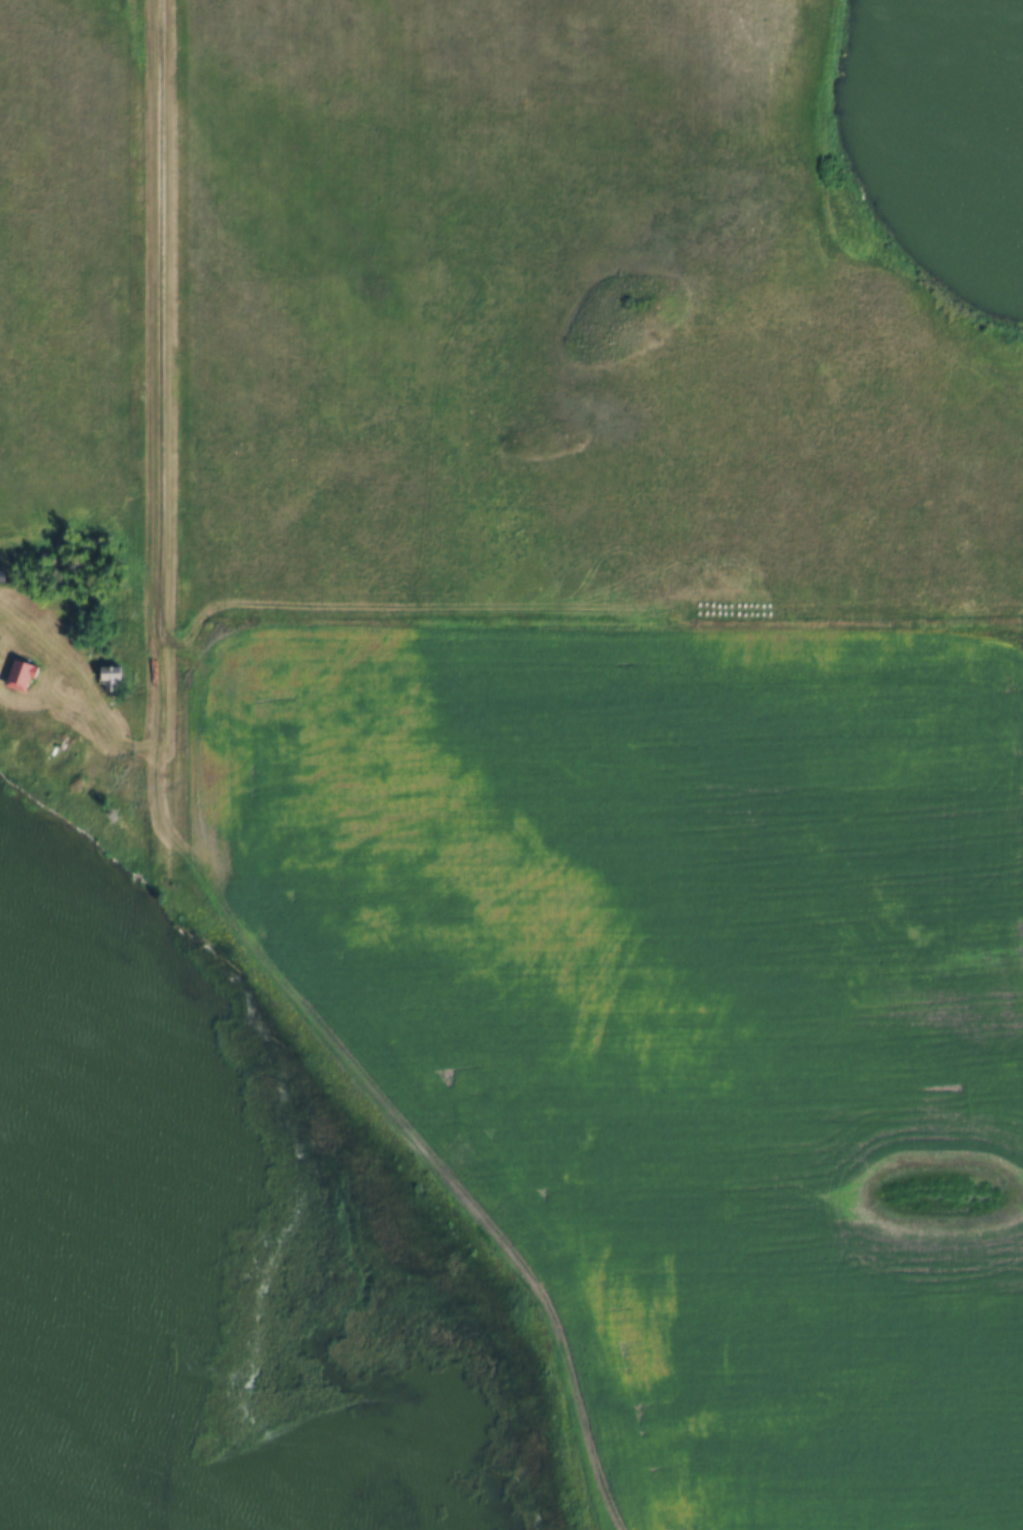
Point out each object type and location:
road: (162, 365)
building: (3, 574)
building: (22, 672)
building: (112, 674)
road: (96, 710)
road: (165, 1130)

